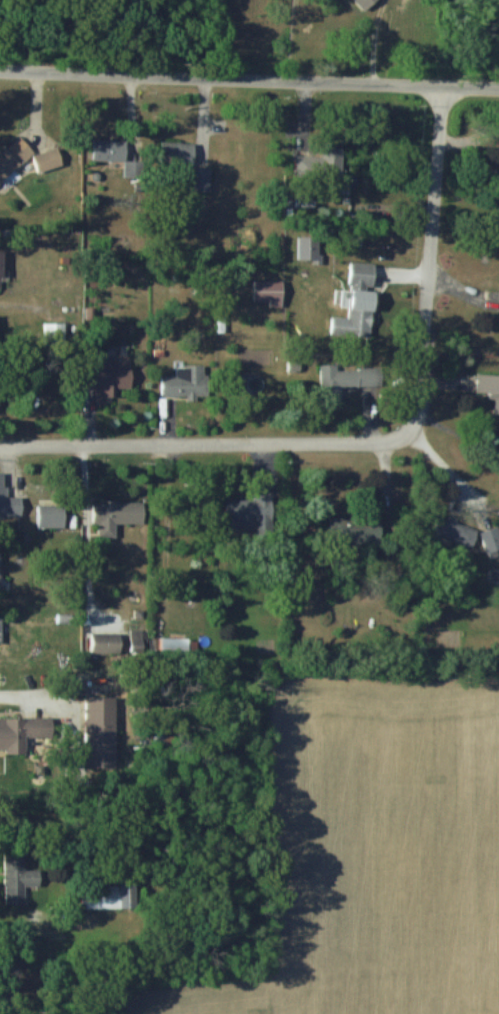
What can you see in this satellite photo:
building: (366, 3)
road: (249, 80)
building: (30, 158)
building: (321, 166)
road: (436, 264)
building: (272, 292)
building: (360, 303)
building: (111, 379)
building: (330, 380)
building: (491, 387)
road: (210, 449)
building: (10, 501)
building: (119, 513)
building: (53, 515)
building: (355, 530)
building: (455, 531)
building: (491, 540)
building: (2, 570)
building: (3, 630)
building: (20, 880)
building: (102, 896)

